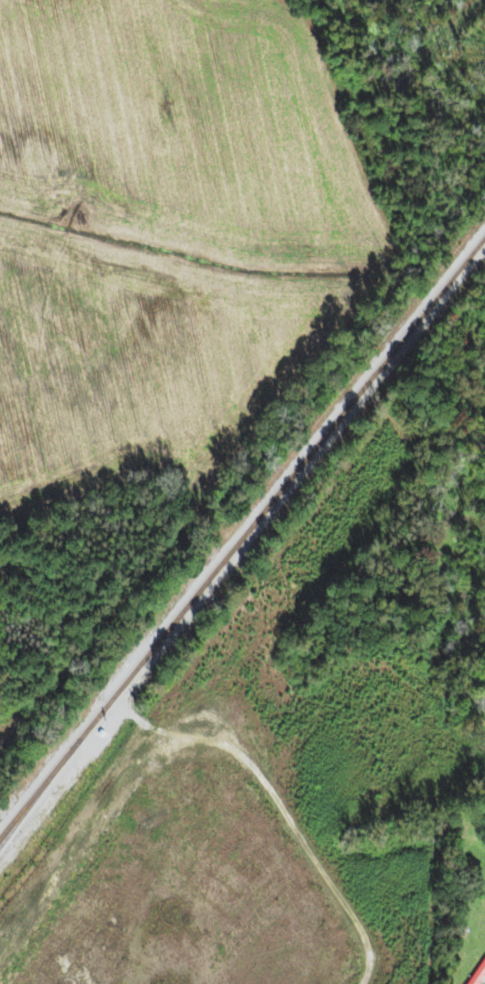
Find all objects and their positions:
railway: (241, 532)
railway: (43, 790)
road: (441, 908)
building: (476, 972)

